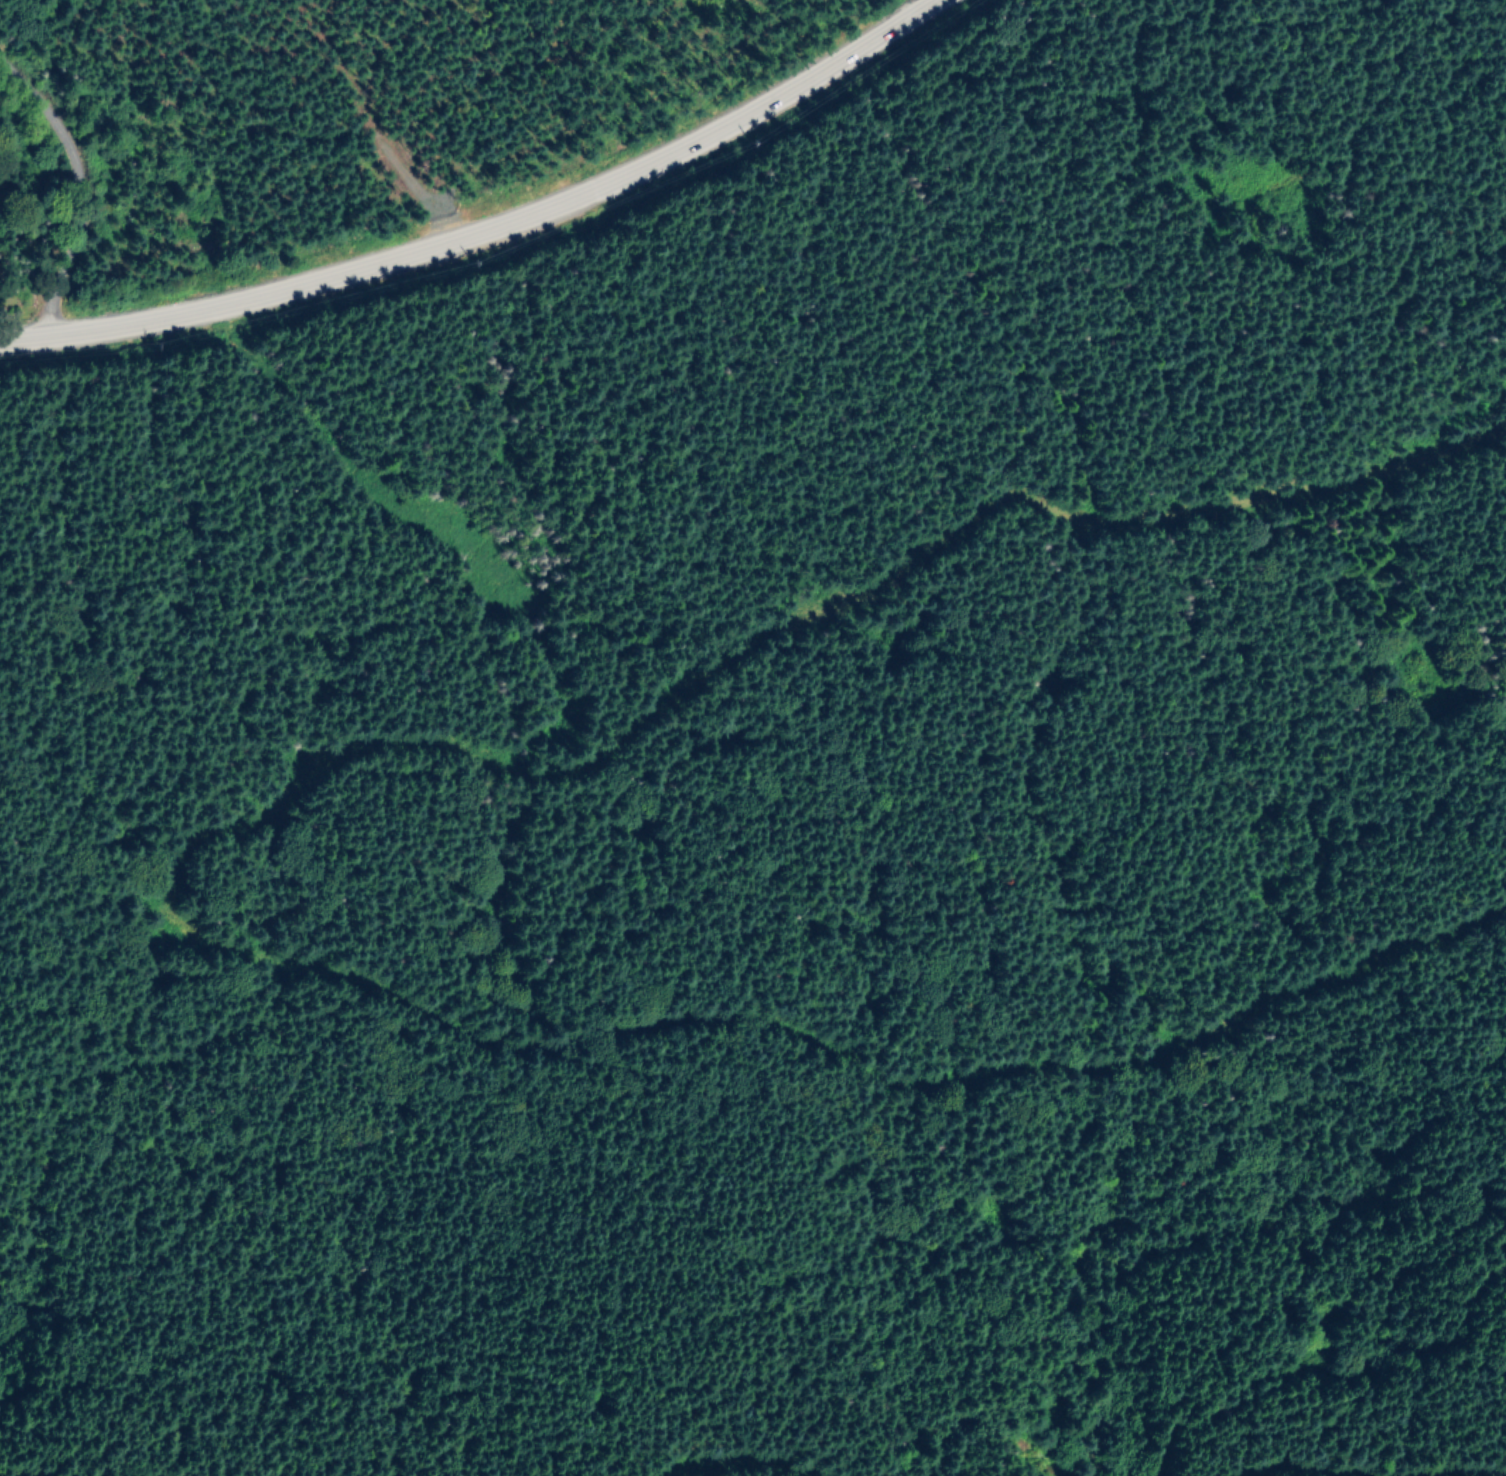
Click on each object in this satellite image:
road: (79, 188)
road: (487, 230)
road: (422, 526)
road: (181, 868)
road: (745, 1461)
road: (1301, 1468)
road: (1490, 1475)

